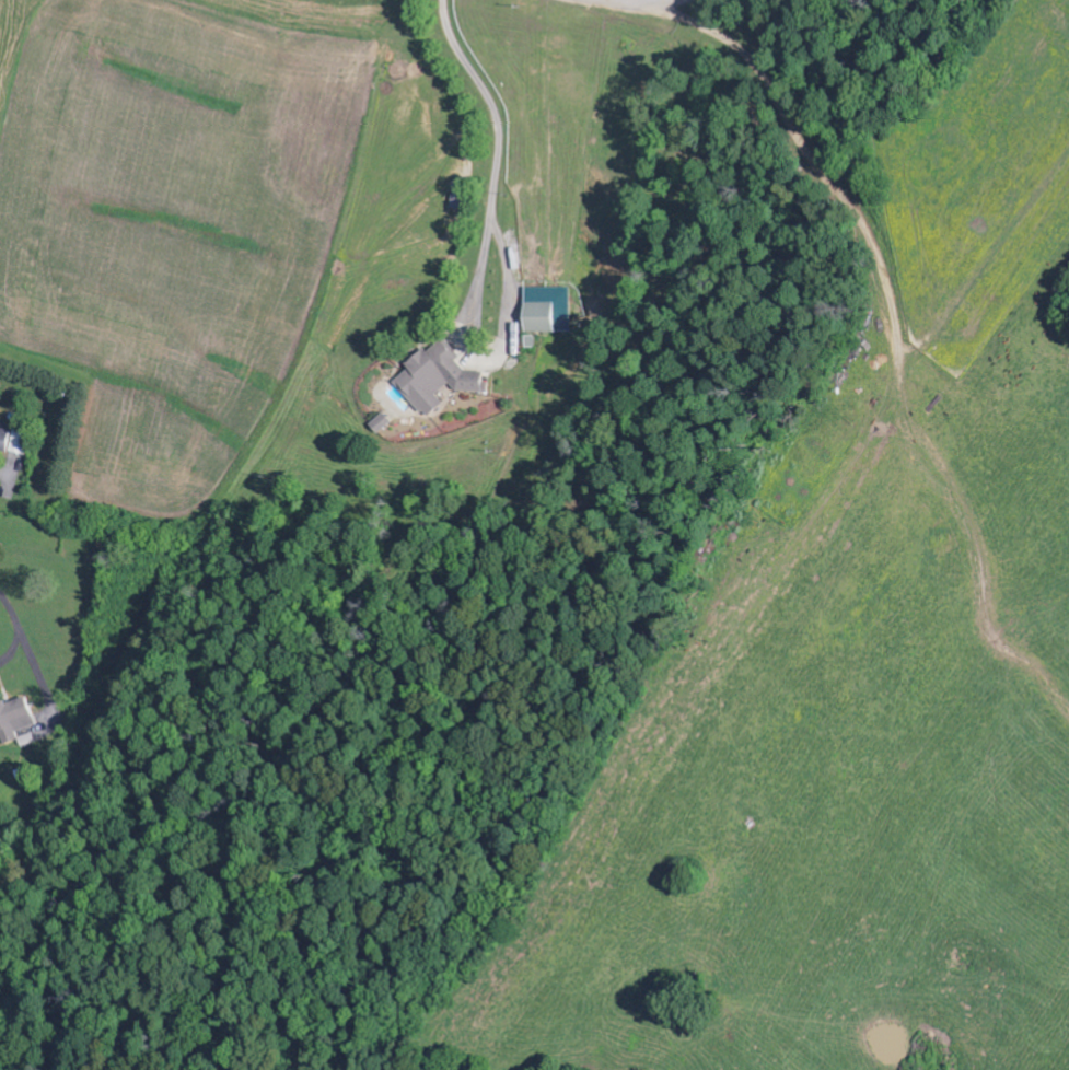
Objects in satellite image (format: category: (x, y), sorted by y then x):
road: (904, 74)
building: (463, 197)
building: (546, 318)
building: (443, 379)
building: (15, 441)
road: (177, 638)
building: (19, 718)

